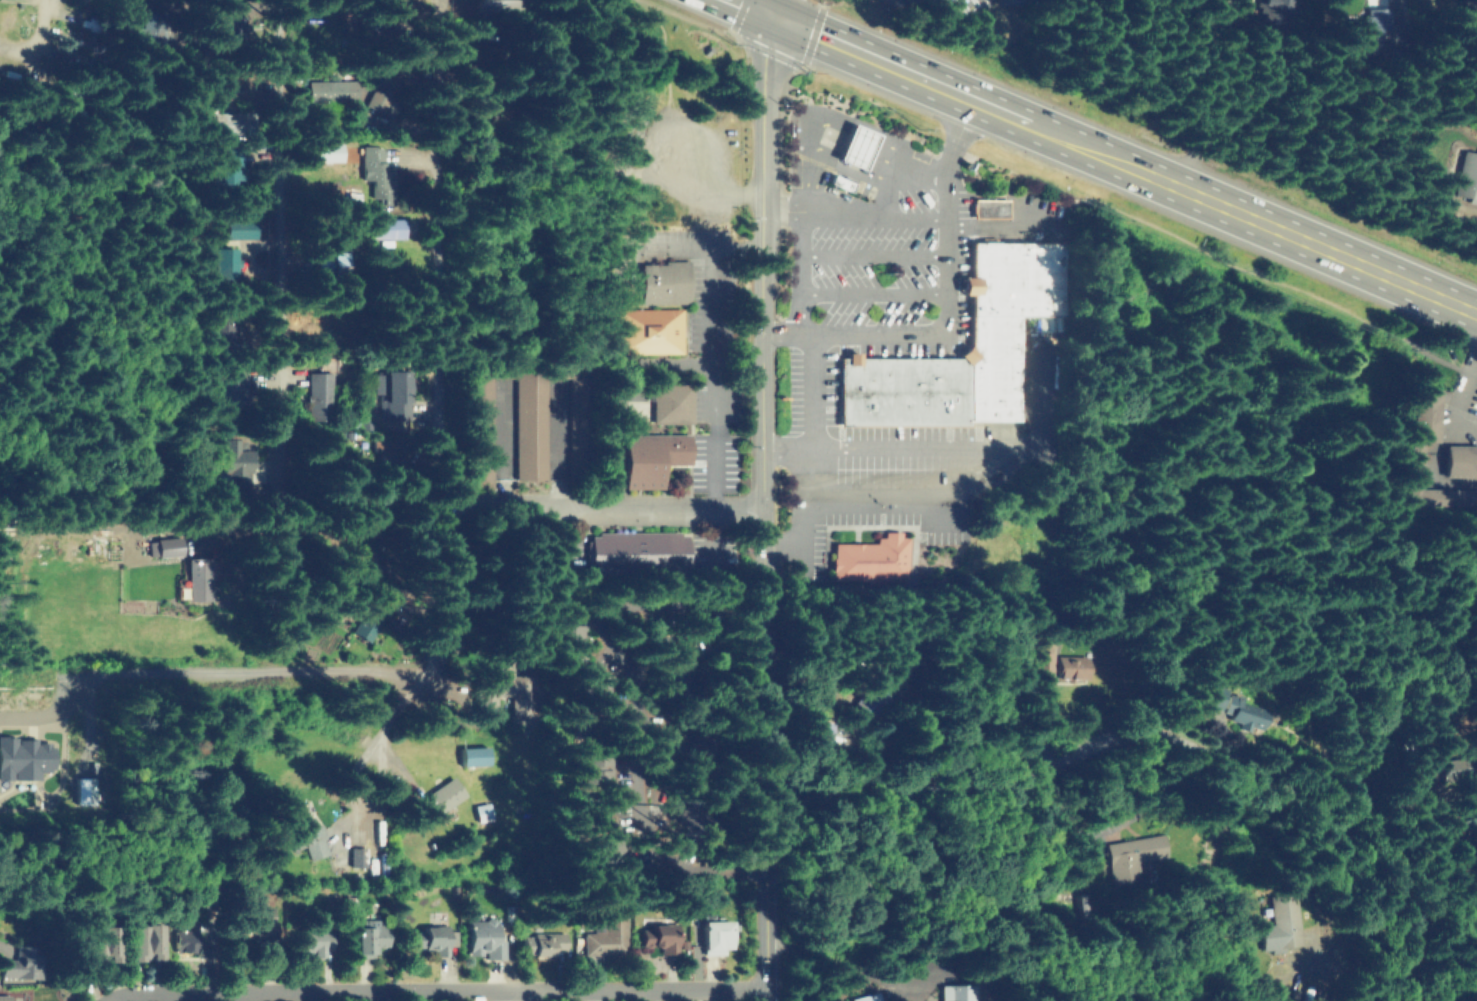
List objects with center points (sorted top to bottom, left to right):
building: (1014, 2)
building: (496, 4)
road: (781, 8)
building: (404, 11)
traffic signals: (777, 17)
building: (1273, 17)
building: (232, 26)
building: (1365, 28)
road: (38, 36)
building: (448, 53)
building: (466, 57)
building: (229, 87)
building: (331, 89)
road: (1213, 92)
building: (379, 102)
building: (228, 121)
road: (820, 121)
building: (851, 146)
gas station: (851, 146)
building: (328, 153)
road: (1108, 155)
building: (226, 167)
building: (378, 174)
building: (1466, 179)
building: (838, 184)
road: (275, 187)
building: (988, 209)
road: (877, 217)
building: (238, 229)
building: (387, 229)
building: (330, 256)
building: (221, 263)
building: (665, 283)
road: (946, 308)
building: (221, 324)
road: (440, 326)
building: (650, 331)
road: (734, 362)
building: (948, 371)
parking lot: (811, 382)
road: (1463, 384)
building: (231, 387)
road: (713, 387)
building: (391, 391)
building: (320, 394)
building: (671, 399)
building: (528, 414)
road: (941, 455)
building: (390, 457)
building: (653, 458)
building: (235, 460)
building: (1459, 460)
road: (807, 465)
building: (1416, 465)
road: (566, 473)
road: (428, 505)
road: (758, 508)
building: (163, 547)
building: (640, 553)
building: (870, 556)
building: (350, 562)
road: (612, 574)
building: (196, 580)
building: (364, 625)
building: (567, 639)
building: (1057, 667)
road: (222, 671)
road: (1436, 672)
road: (1396, 675)
building: (675, 677)
building: (498, 690)
building: (593, 697)
building: (876, 701)
building: (1229, 706)
road: (430, 729)
building: (826, 733)
road: (1071, 752)
building: (470, 756)
building: (24, 758)
road: (366, 775)
building: (83, 791)
building: (436, 800)
building: (479, 813)
building: (588, 822)
building: (304, 840)
building: (356, 857)
building: (1131, 858)
road: (1425, 905)
building: (345, 907)
building: (250, 921)
building: (1281, 925)
building: (715, 933)
building: (372, 934)
building: (606, 935)
building: (658, 936)
building: (429, 937)
building: (482, 937)
building: (310, 938)
building: (144, 939)
building: (101, 941)
building: (542, 942)
building: (190, 943)
building: (20, 960)
road: (437, 989)
building: (957, 992)
building: (4, 998)
building: (866, 998)

